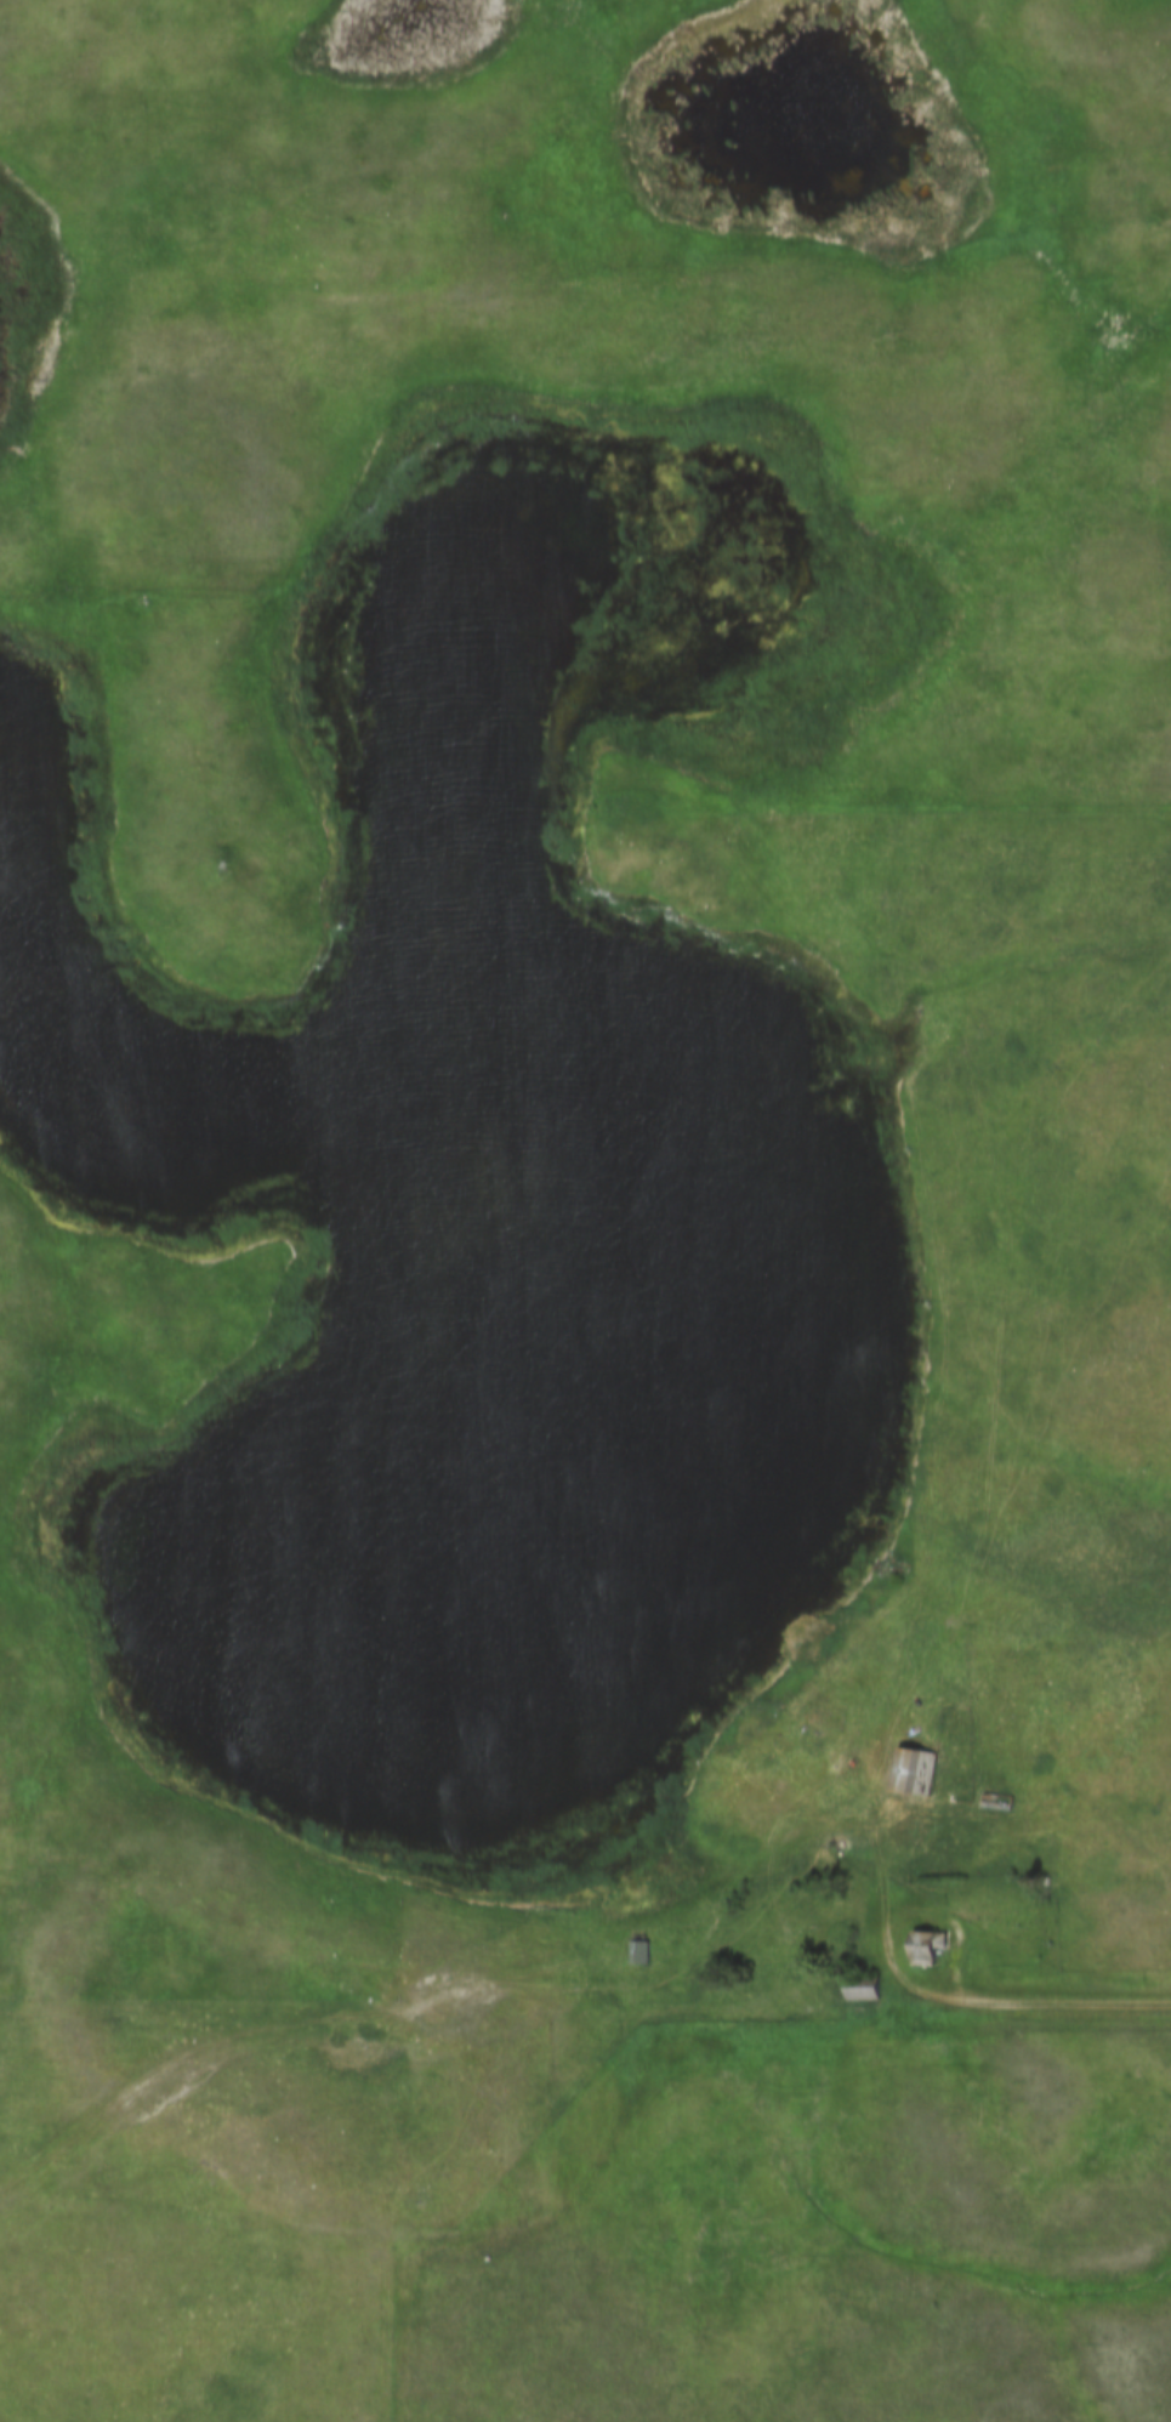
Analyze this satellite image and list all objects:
building: (837, 1668)
building: (815, 1705)
building: (914, 1773)
road: (910, 1915)
building: (926, 1946)
building: (641, 1954)
building: (862, 1988)
road: (1067, 2009)

